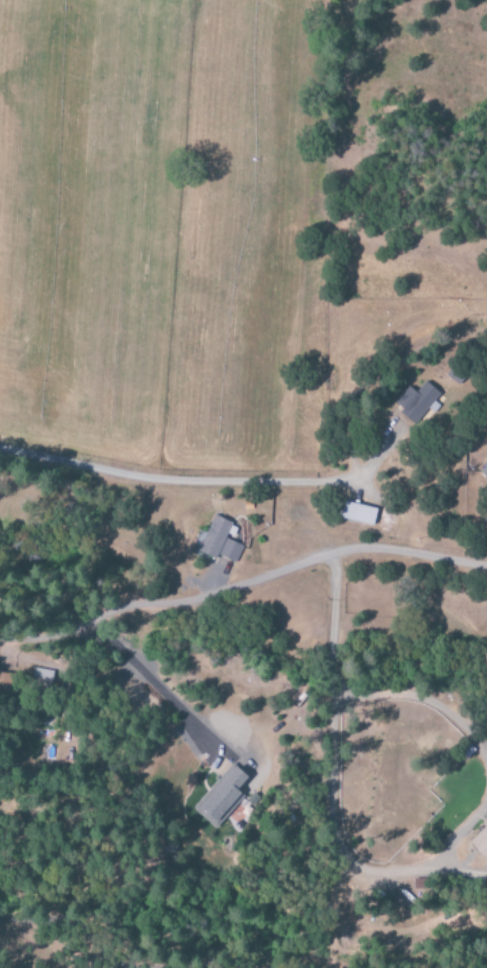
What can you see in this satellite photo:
building: (416, 402)
road: (194, 482)
building: (358, 514)
building: (218, 542)
road: (244, 580)
road: (335, 624)
building: (41, 681)
building: (6, 688)
road: (156, 689)
road: (421, 702)
building: (220, 798)
road: (348, 862)

